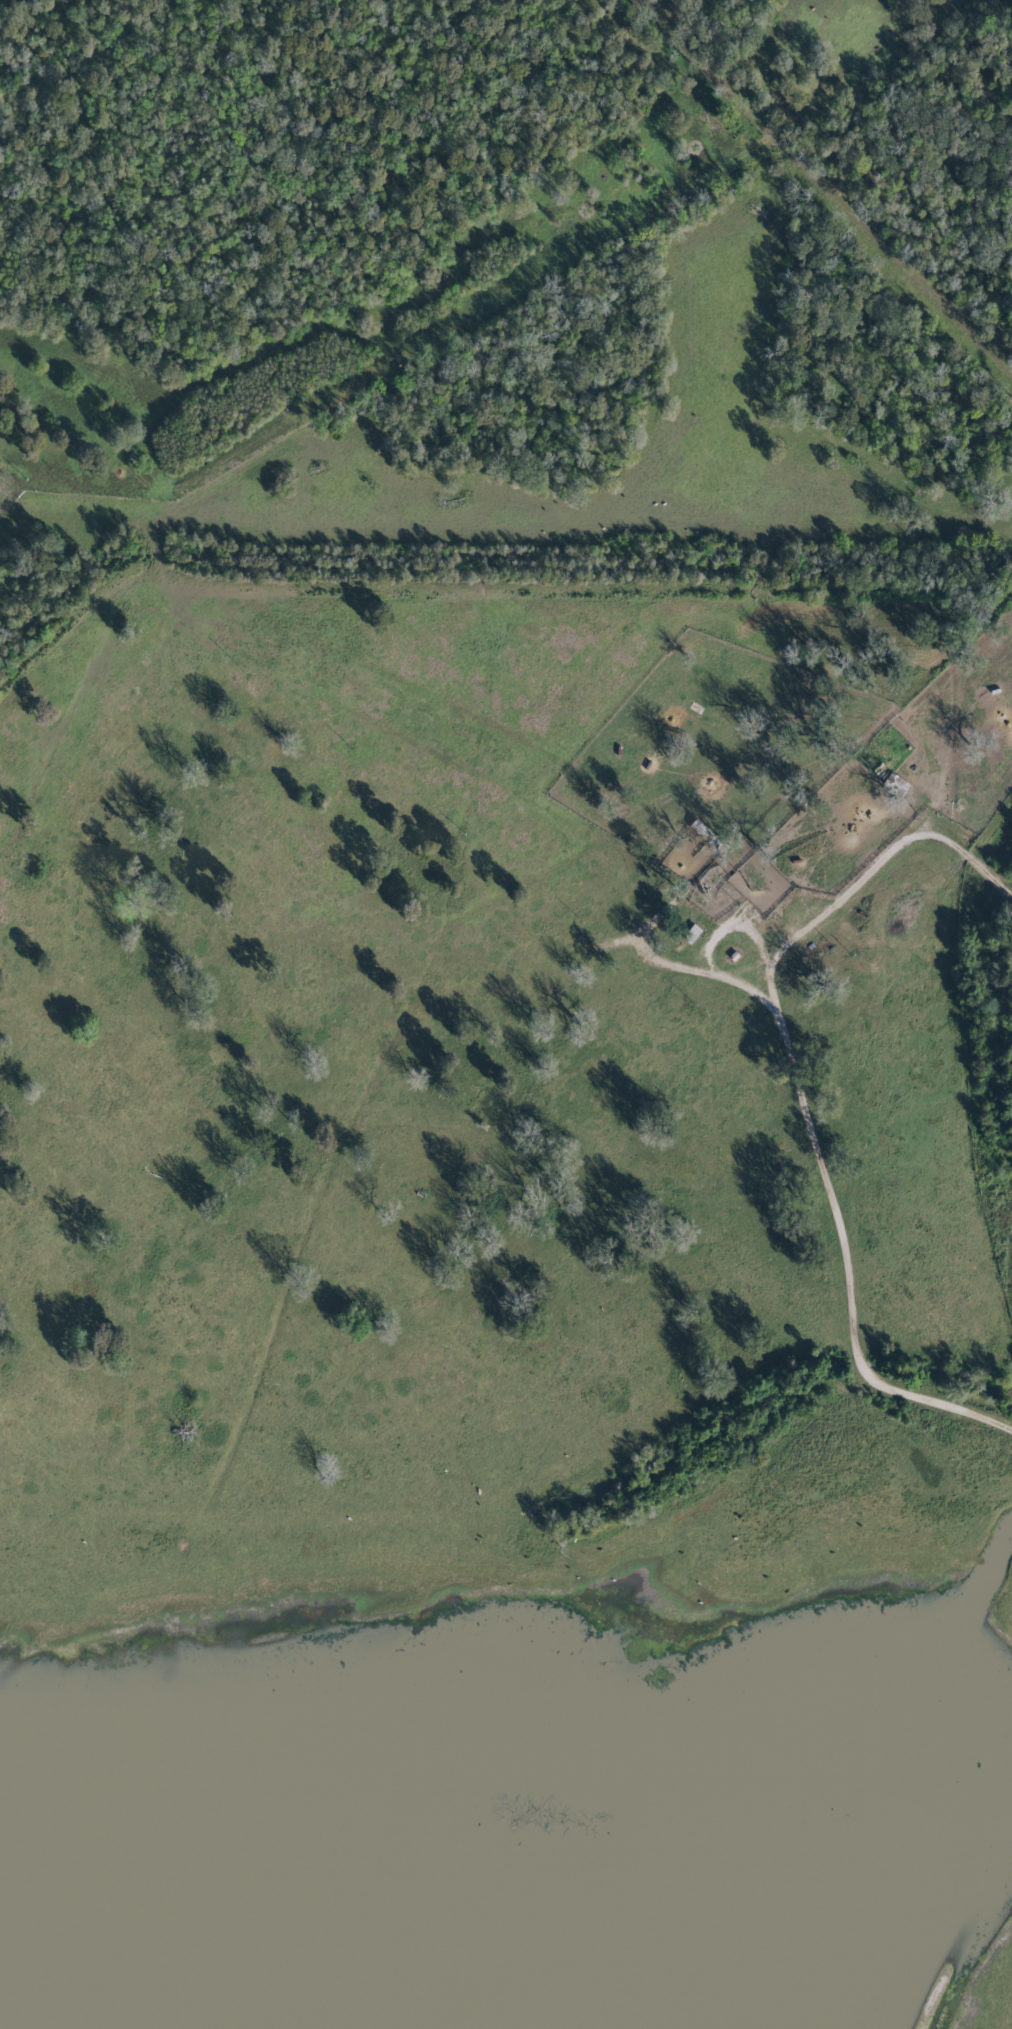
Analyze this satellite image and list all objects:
road: (836, 1239)

